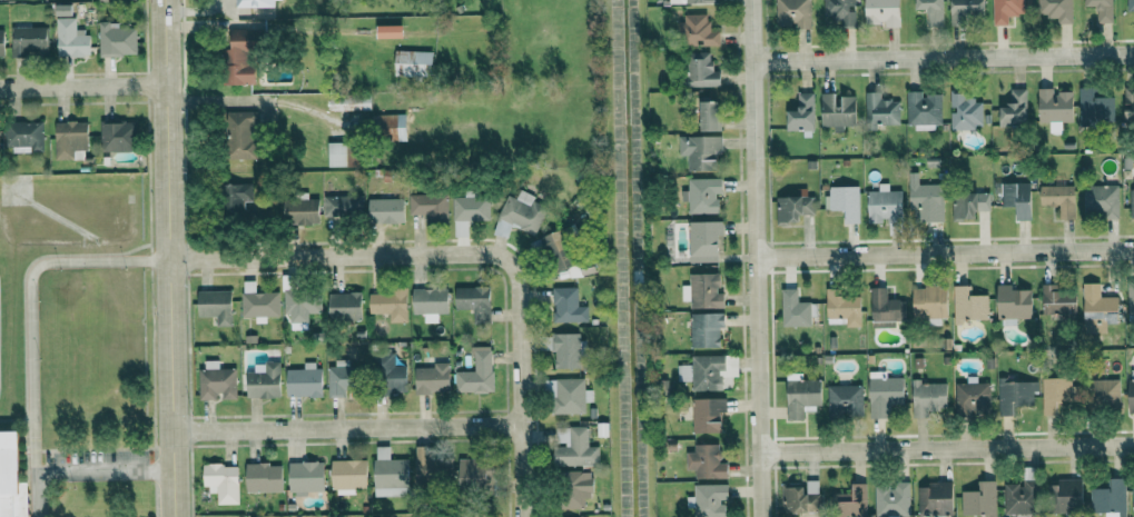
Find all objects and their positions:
building: (691, 1)
building: (254, 3)
building: (1131, 6)
road: (189, 9)
building: (967, 9)
building: (1057, 9)
building: (1006, 10)
building: (1103, 10)
building: (840, 11)
building: (793, 12)
building: (884, 12)
building: (698, 30)
building: (389, 31)
building: (28, 37)
building: (71, 38)
building: (117, 39)
building: (1, 42)
road: (943, 57)
building: (239, 58)
building: (412, 62)
building: (701, 70)
road: (81, 91)
road: (256, 101)
building: (349, 101)
building: (1130, 103)
building: (1055, 106)
building: (1095, 106)
building: (1015, 108)
building: (838, 110)
building: (880, 110)
building: (923, 110)
building: (965, 111)
building: (802, 112)
building: (710, 116)
building: (389, 127)
building: (239, 135)
building: (23, 136)
building: (119, 136)
building: (70, 138)
building: (323, 152)
building: (703, 152)
building: (337, 153)
building: (703, 195)
building: (236, 196)
building: (1017, 198)
building: (1059, 199)
building: (1101, 200)
building: (845, 201)
building: (927, 201)
building: (1132, 202)
building: (884, 203)
building: (969, 205)
building: (343, 206)
building: (428, 206)
building: (793, 208)
building: (386, 210)
building: (469, 210)
building: (300, 211)
building: (523, 211)
building: (704, 241)
road: (945, 251)
road: (293, 256)
building: (566, 257)
road: (172, 258)
road: (756, 258)
building: (703, 290)
building: (1131, 300)
building: (475, 301)
building: (258, 302)
building: (430, 302)
building: (389, 304)
building: (565, 304)
building: (930, 304)
building: (1014, 304)
building: (1059, 304)
building: (969, 305)
building: (216, 306)
building: (302, 306)
building: (345, 306)
building: (1100, 306)
building: (844, 307)
building: (886, 308)
building: (795, 309)
building: (707, 329)
road: (517, 336)
building: (568, 350)
road: (31, 371)
building: (476, 372)
building: (703, 372)
building: (388, 375)
building: (433, 379)
building: (305, 380)
building: (341, 380)
building: (217, 381)
building: (265, 381)
building: (1132, 390)
building: (885, 394)
building: (1058, 394)
building: (1106, 394)
building: (1016, 395)
building: (569, 396)
building: (802, 396)
building: (928, 397)
building: (973, 397)
building: (846, 399)
building: (708, 415)
road: (348, 430)
building: (574, 447)
road: (947, 448)
building: (707, 461)
building: (426, 465)
building: (474, 471)
building: (10, 474)
building: (391, 474)
building: (348, 476)
building: (264, 477)
building: (306, 477)
building: (223, 483)
building: (576, 488)
road: (34, 495)
building: (1133, 495)
building: (1066, 496)
building: (1019, 497)
building: (801, 498)
building: (1111, 498)
building: (893, 499)
building: (936, 499)
building: (980, 499)
building: (709, 500)
building: (851, 501)

